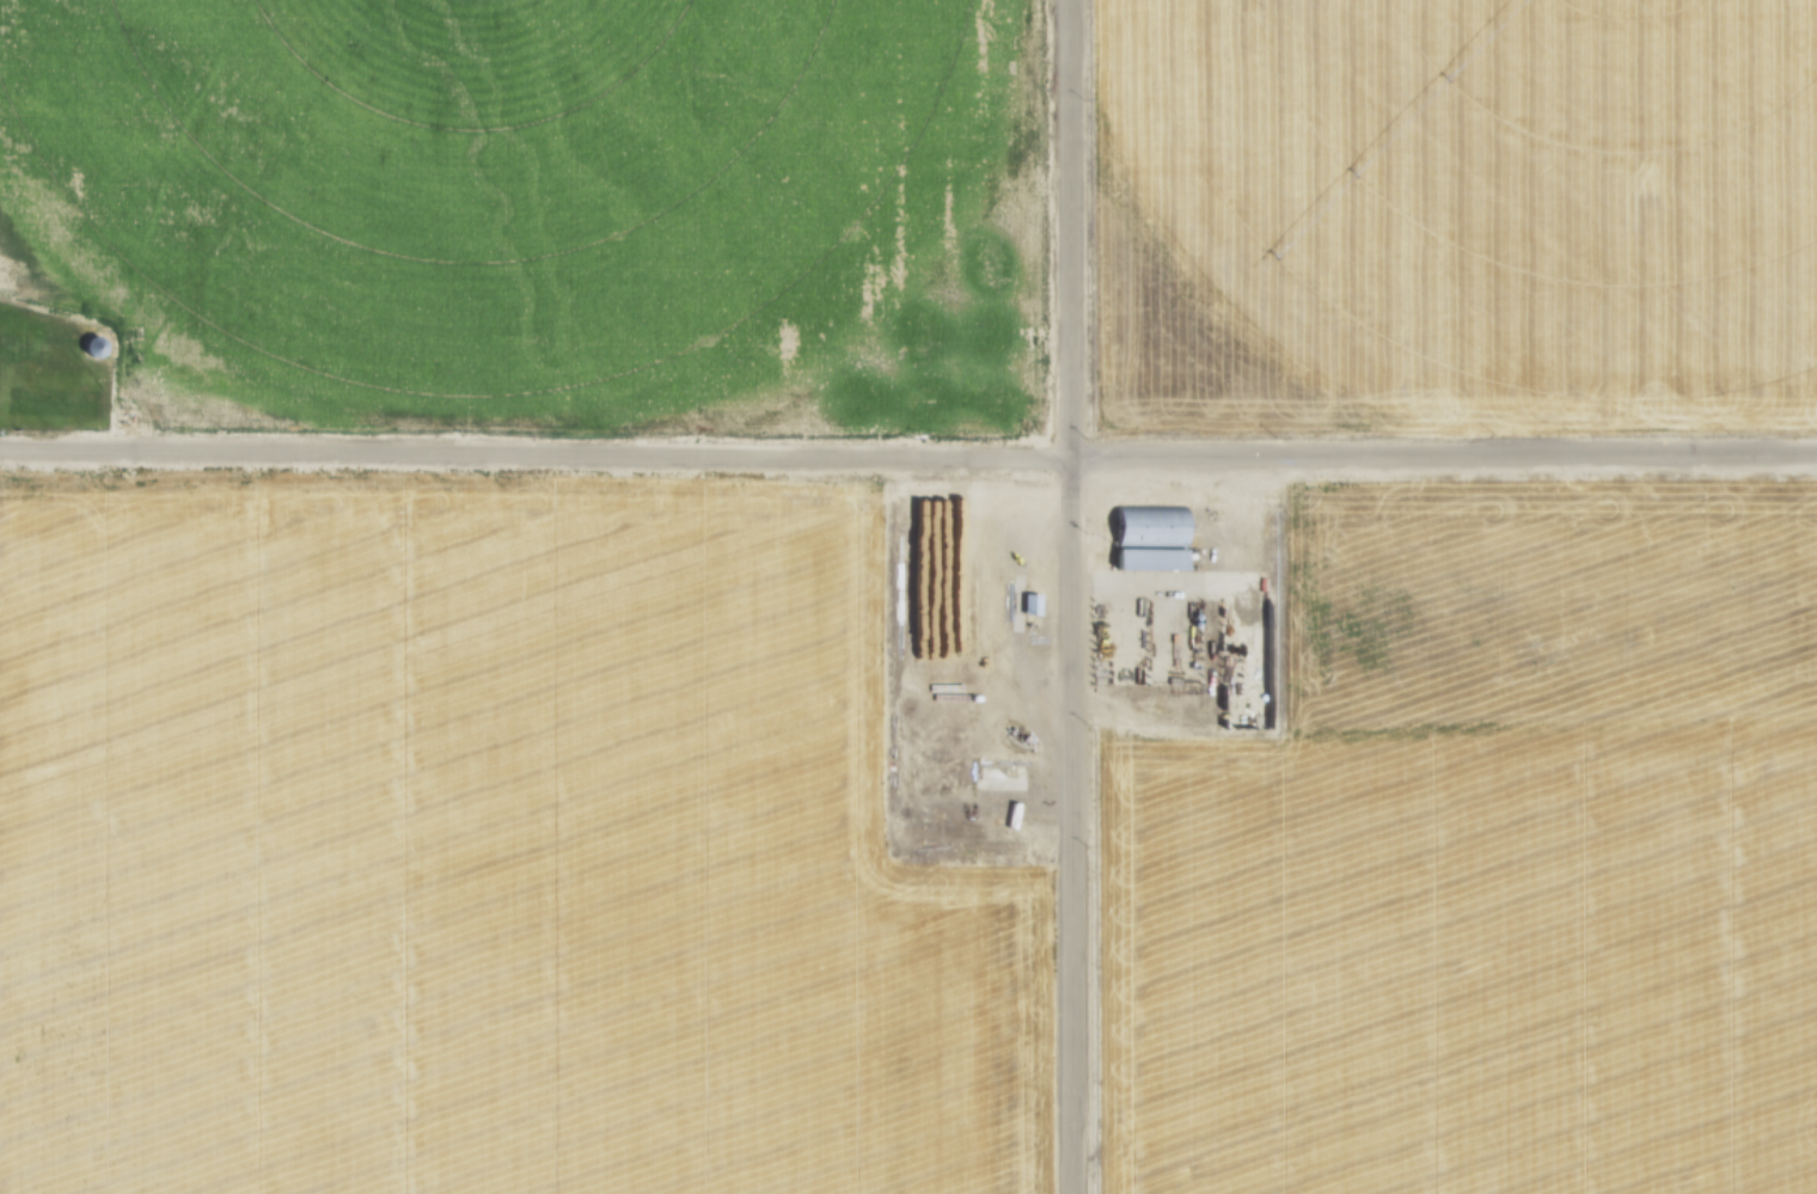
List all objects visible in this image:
road: (1065, 231)
building: (97, 347)
silo: (97, 347)
road: (907, 459)
road: (1198, 478)
road: (527, 494)
road: (1309, 497)
building: (1154, 528)
road: (1229, 541)
building: (1157, 562)
road: (1016, 604)
road: (1045, 606)
building: (1030, 607)
road: (1164, 631)
road: (1121, 649)
road: (1240, 655)
road: (1140, 712)
building: (1258, 724)
road: (1005, 804)
road: (1067, 827)

